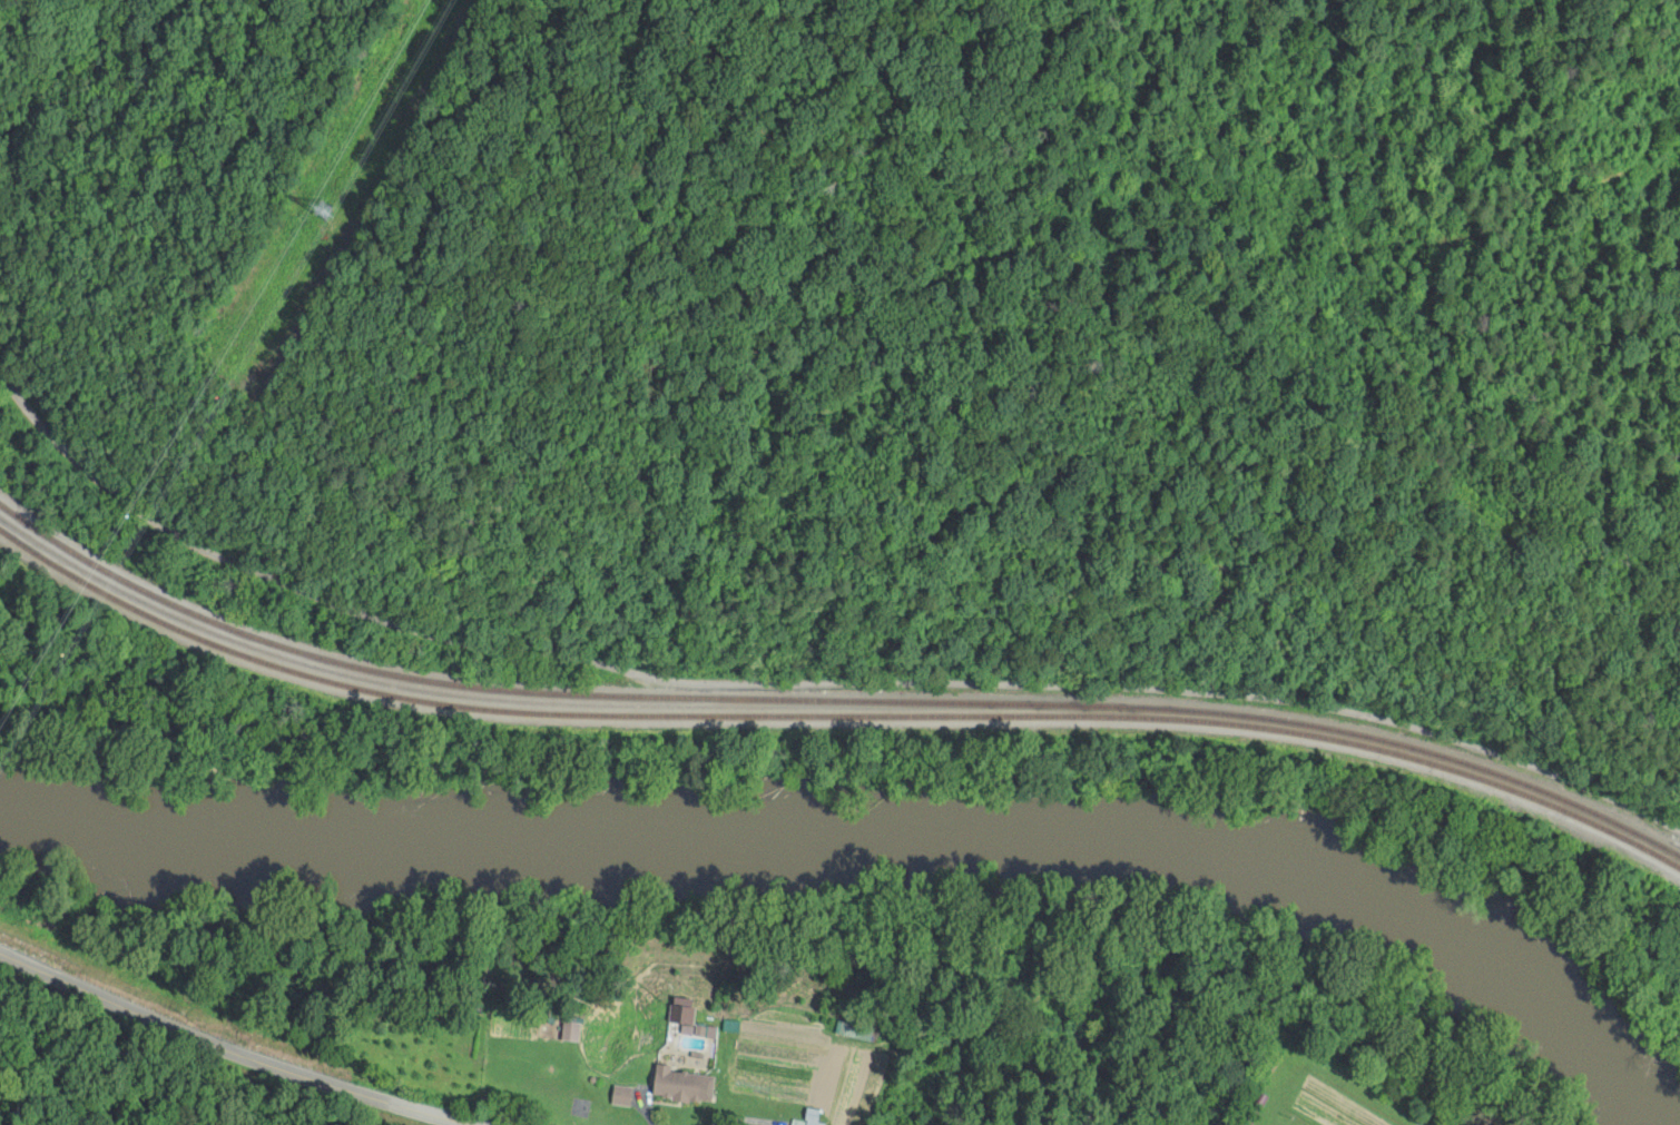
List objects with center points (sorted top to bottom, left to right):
road: (824, 619)
railway: (833, 710)
river: (882, 845)
road: (226, 1049)
building: (762, 1083)
building: (676, 1086)
building: (1256, 1111)

